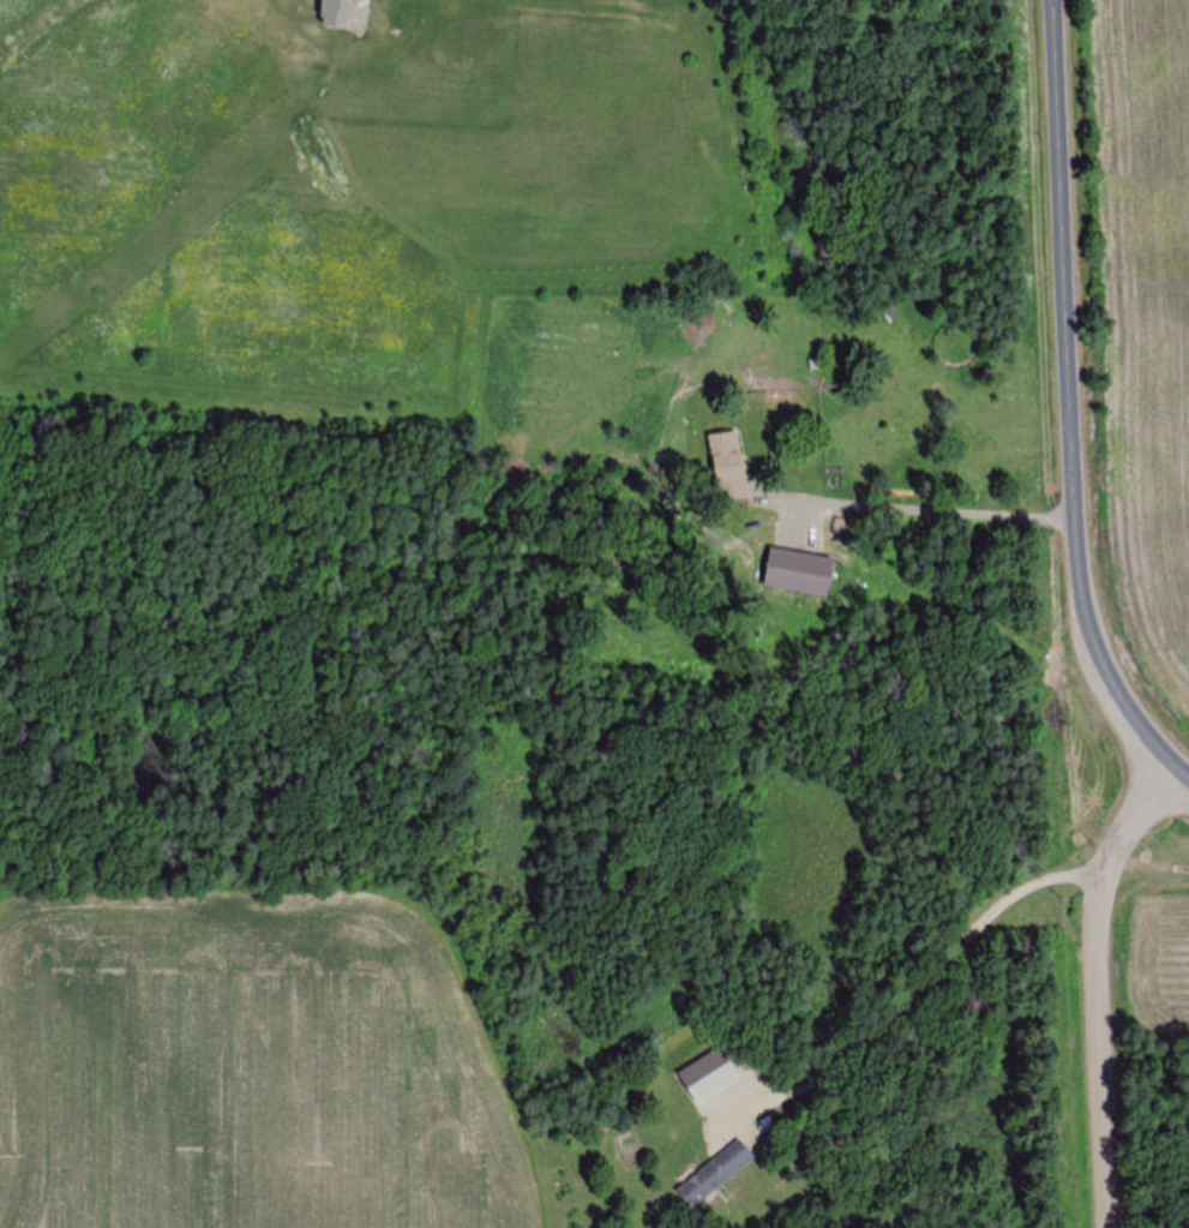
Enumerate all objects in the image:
road: (1068, 405)
building: (728, 466)
road: (933, 508)
building: (798, 543)
road: (1104, 984)
building: (715, 1174)

